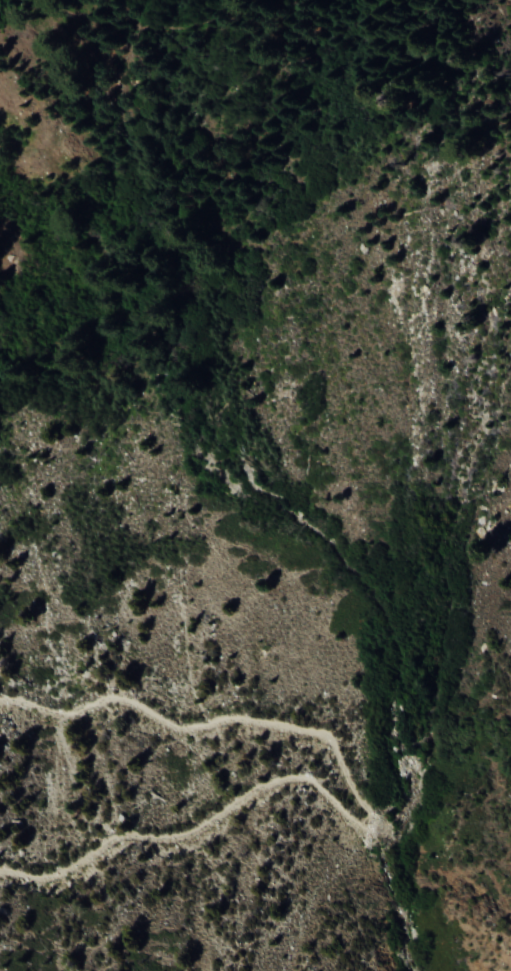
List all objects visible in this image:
road: (125, 19)
road: (372, 812)

